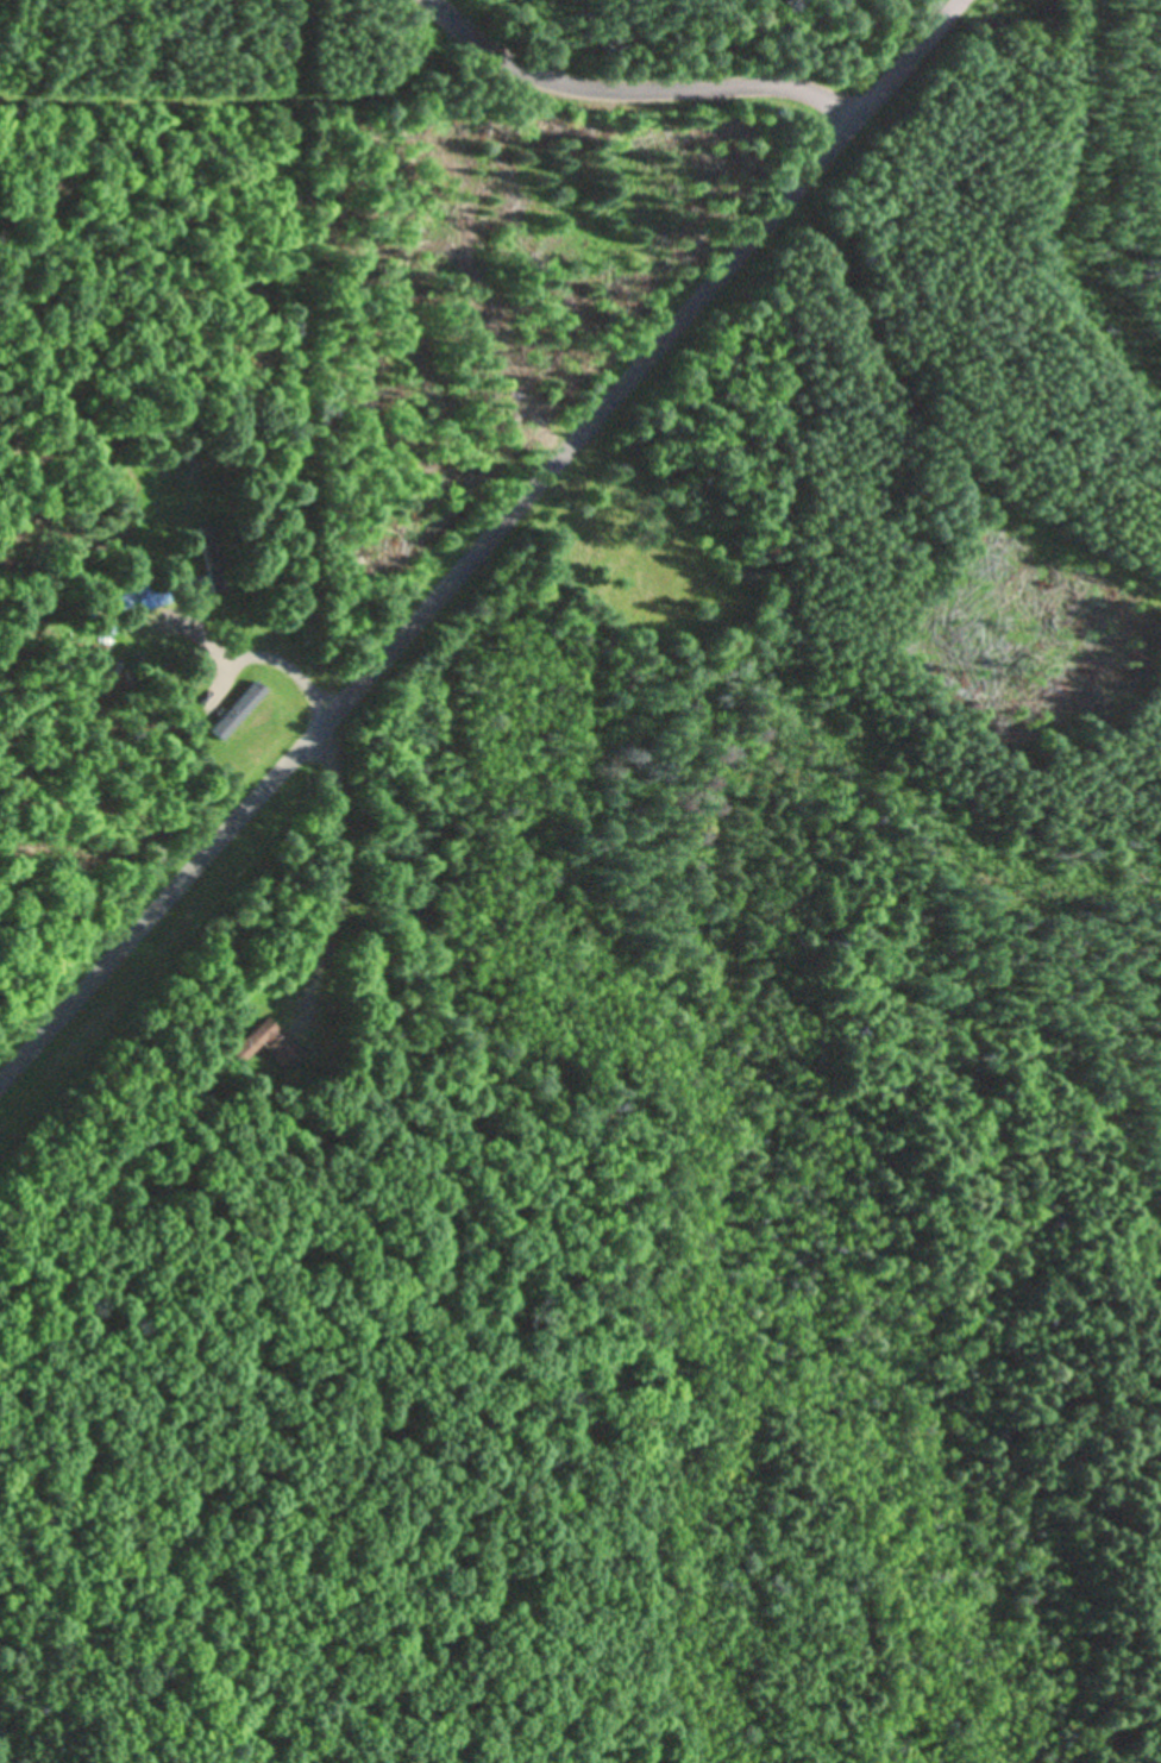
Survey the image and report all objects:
road: (632, 88)
road: (485, 540)
building: (211, 559)
building: (236, 710)
building: (262, 1046)

